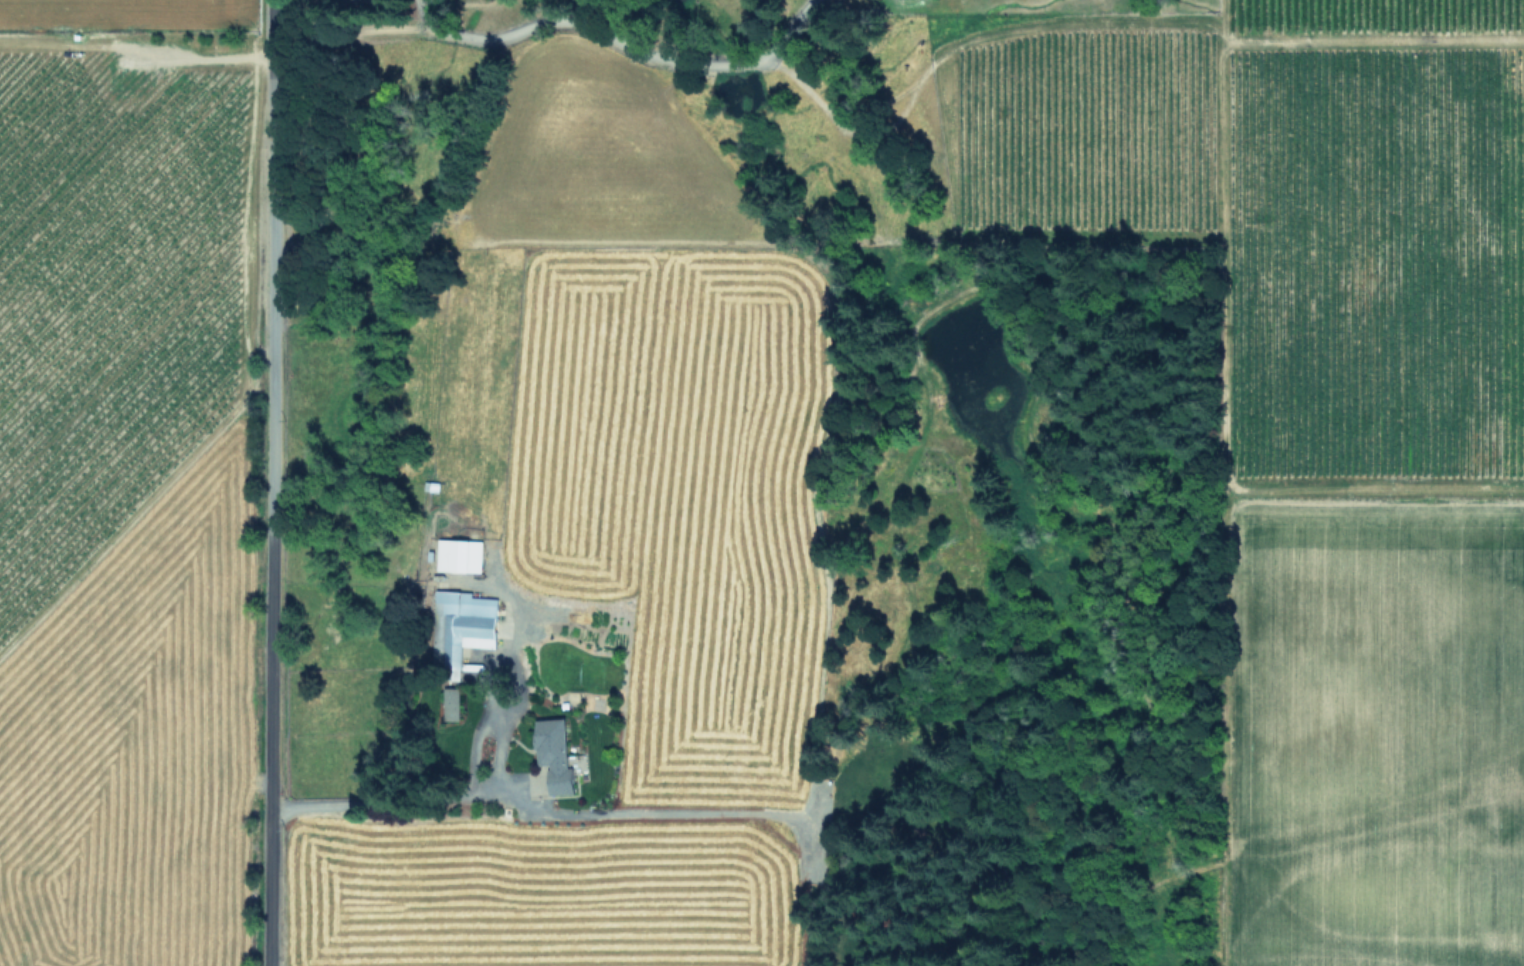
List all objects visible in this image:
road: (617, 45)
road: (211, 52)
crop: (1313, 408)
crop: (120, 480)
road: (270, 483)
building: (461, 555)
crop: (565, 591)
building: (467, 620)
building: (451, 702)
building: (558, 754)
road: (395, 801)

